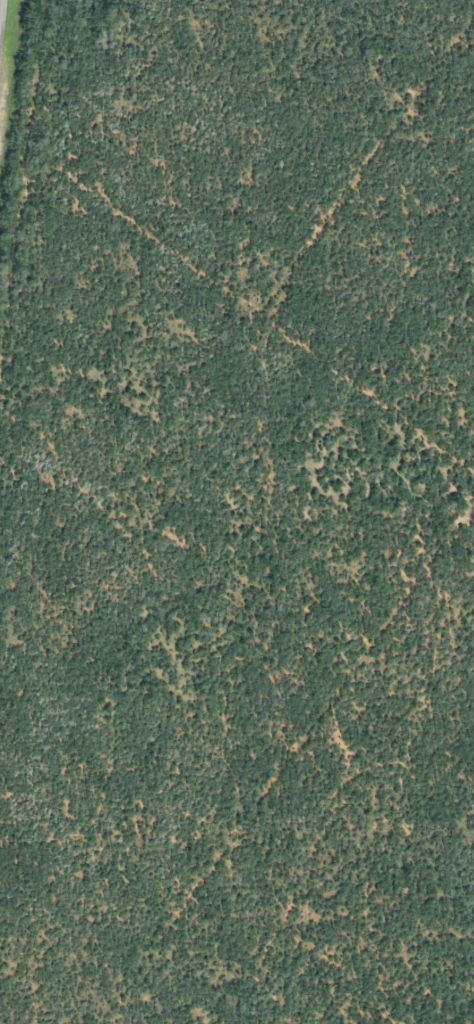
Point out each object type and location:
road: (3, 31)

